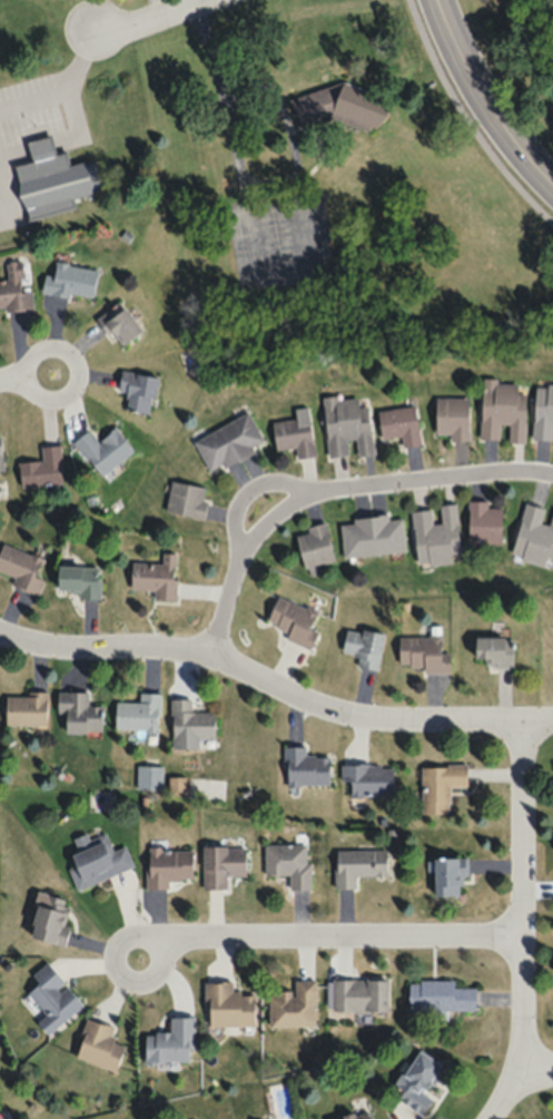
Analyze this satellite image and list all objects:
road: (151, 23)
park: (514, 60)
road: (483, 101)
building: (338, 107)
building: (48, 178)
parking lot: (278, 232)
building: (70, 279)
building: (13, 287)
building: (124, 324)
road: (11, 375)
road: (29, 387)
building: (138, 390)
building: (502, 409)
building: (543, 411)
building: (452, 416)
building: (401, 423)
building: (348, 424)
building: (295, 434)
building: (228, 441)
building: (103, 449)
building: (0, 457)
building: (42, 468)
road: (335, 495)
building: (187, 500)
building: (484, 522)
building: (436, 534)
building: (535, 534)
building: (372, 536)
building: (315, 547)
building: (20, 568)
building: (157, 577)
building: (79, 579)
building: (294, 621)
building: (364, 646)
building: (494, 650)
building: (423, 652)
road: (275, 681)
building: (24, 708)
building: (80, 711)
building: (138, 713)
building: (190, 724)
building: (307, 767)
building: (367, 778)
building: (440, 785)
building: (98, 858)
building: (288, 862)
building: (223, 864)
building: (359, 864)
building: (169, 865)
building: (448, 876)
building: (51, 919)
road: (521, 920)
road: (132, 930)
road: (337, 932)
building: (361, 993)
building: (441, 994)
building: (52, 995)
building: (228, 1003)
building: (294, 1003)
building: (171, 1039)
building: (99, 1043)
road: (532, 1074)
building: (415, 1079)
building: (358, 1116)

